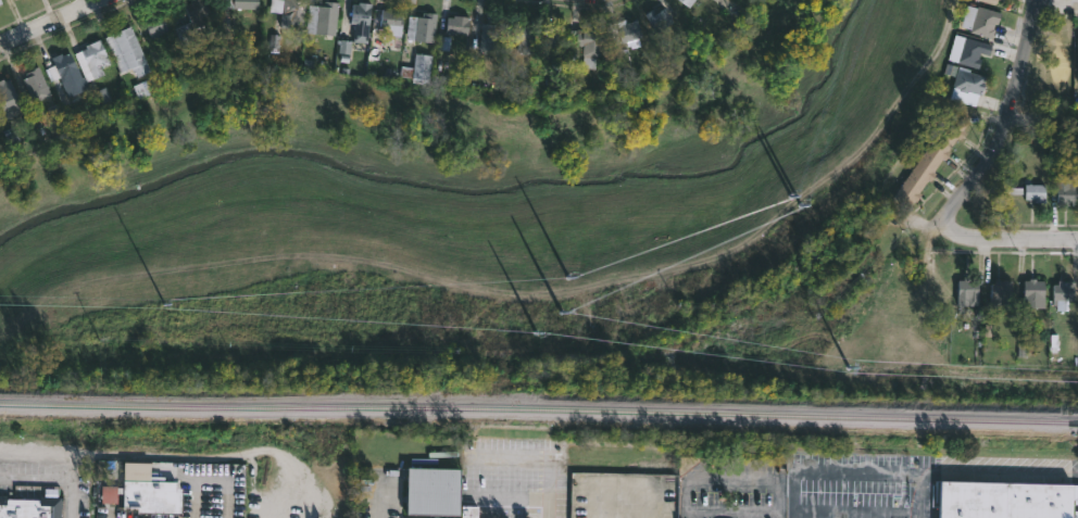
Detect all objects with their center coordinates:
building: (991, 1)
road: (1057, 1)
building: (0, 2)
building: (689, 2)
building: (239, 4)
road: (568, 5)
building: (290, 11)
road: (33, 13)
road: (1063, 16)
building: (660, 17)
building: (192, 18)
building: (323, 18)
building: (361, 20)
building: (979, 20)
road: (49, 22)
building: (391, 22)
building: (456, 24)
building: (155, 25)
building: (421, 26)
road: (65, 28)
building: (627, 33)
building: (490, 35)
building: (522, 36)
building: (555, 36)
building: (587, 45)
building: (127, 51)
building: (966, 51)
building: (1061, 56)
building: (92, 60)
building: (1077, 66)
building: (417, 68)
building: (66, 74)
building: (36, 85)
building: (147, 87)
building: (966, 87)
building: (10, 103)
road: (1043, 114)
road: (1007, 121)
building: (931, 157)
building: (1067, 191)
building: (1035, 192)
power tower: (808, 197)
road: (1030, 224)
road: (1005, 239)
road: (999, 253)
power tower: (523, 292)
building: (968, 292)
building: (1035, 292)
building: (1062, 294)
building: (1002, 296)
power tower: (484, 312)
power tower: (524, 320)
power tower: (861, 369)
railway: (539, 408)
road: (510, 457)
road: (216, 470)
road: (854, 471)
road: (731, 479)
road: (54, 480)
road: (625, 481)
road: (550, 488)
building: (150, 491)
building: (433, 492)
road: (196, 494)
road: (380, 495)
road: (918, 495)
road: (509, 497)
building: (1007, 500)
building: (29, 507)
building: (468, 510)
road: (732, 513)

